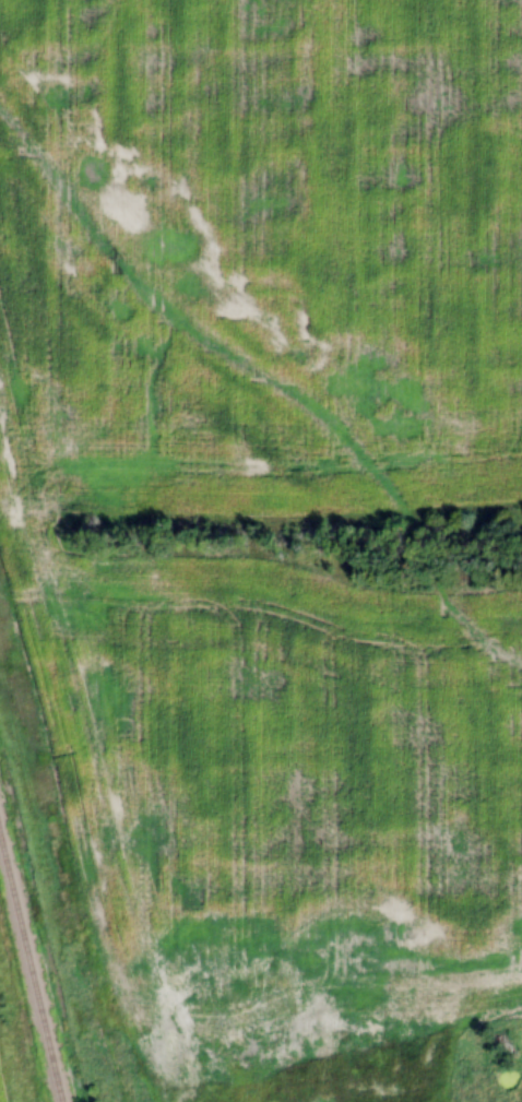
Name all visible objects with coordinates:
railway: (29, 970)

